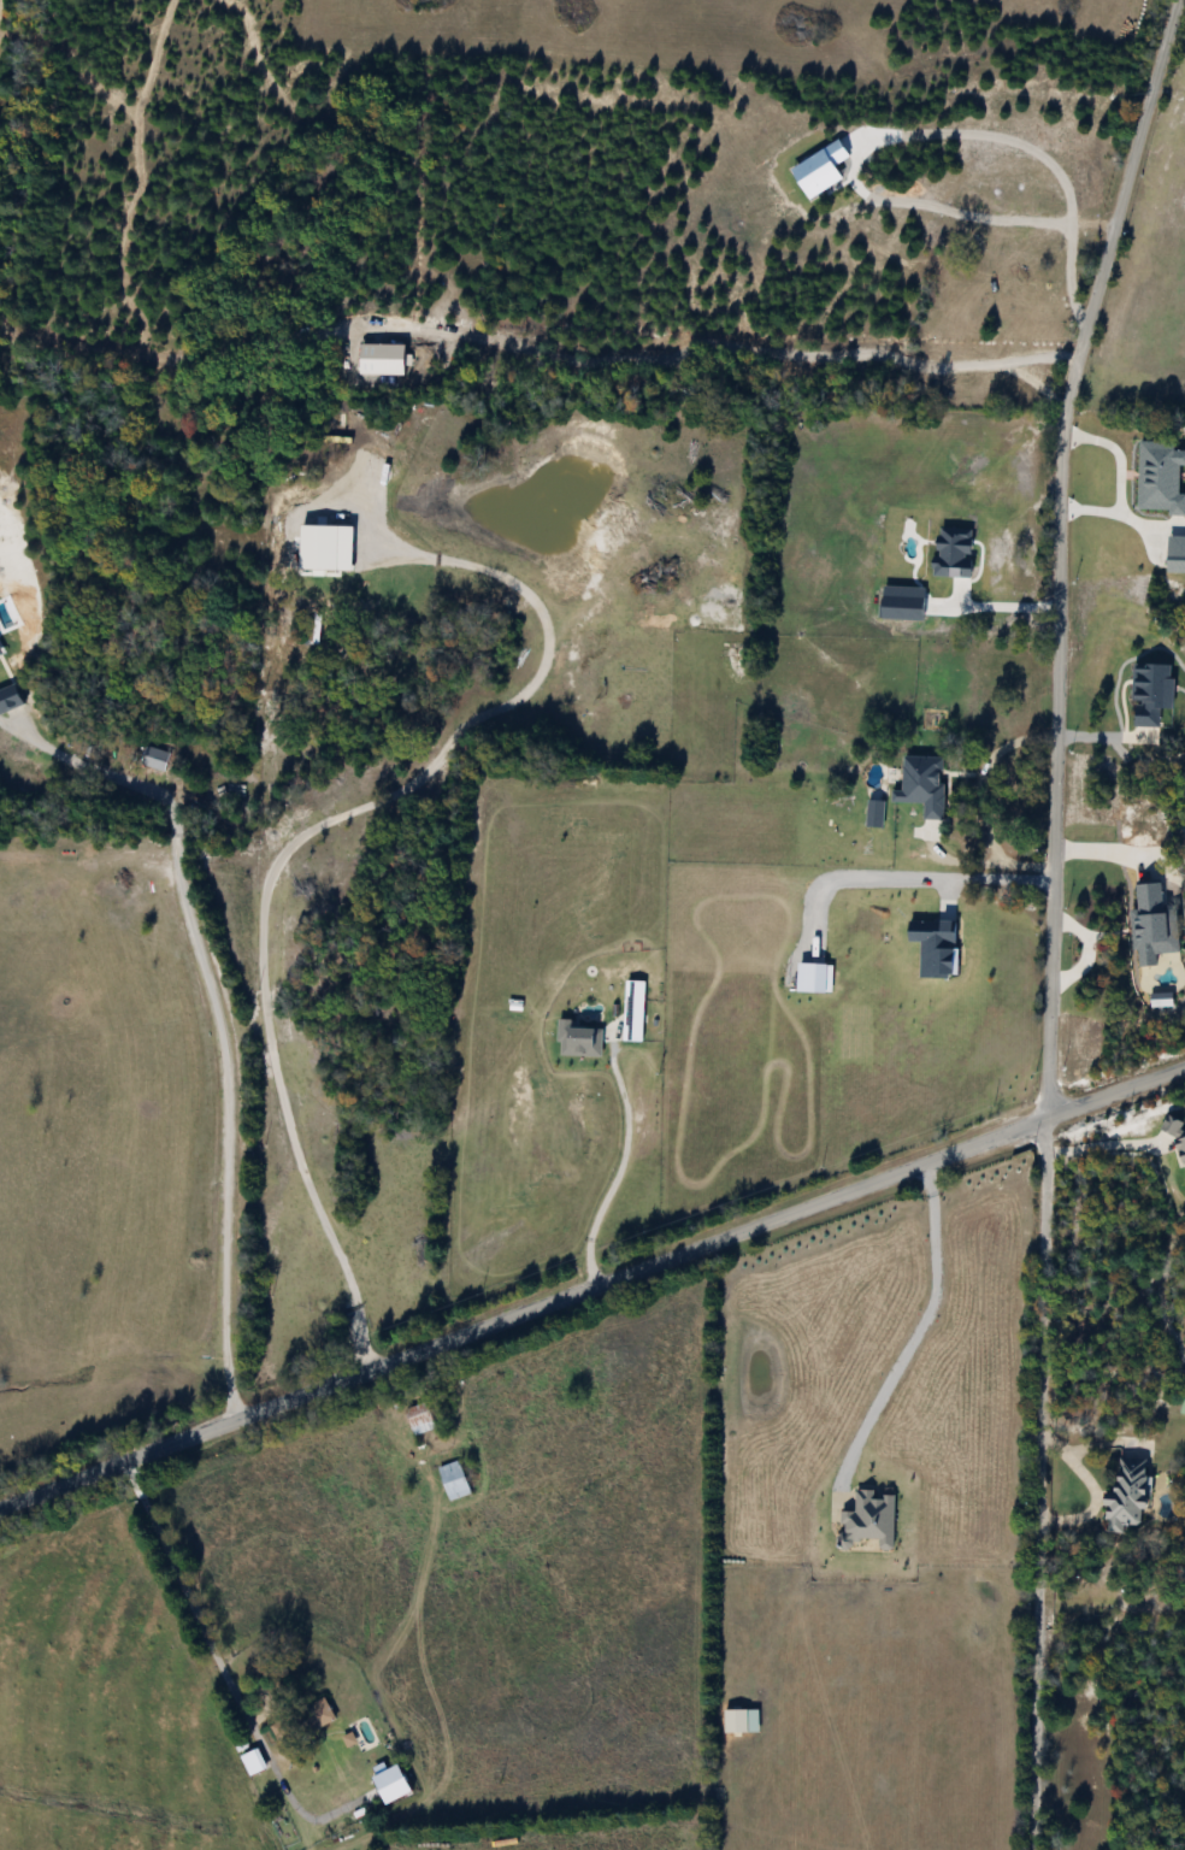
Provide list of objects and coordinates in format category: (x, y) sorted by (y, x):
road: (909, 132)
building: (1006, 230)
road: (750, 352)
road: (1032, 388)
road: (1119, 478)
road: (1056, 550)
road: (997, 606)
road: (984, 799)
road: (302, 836)
building: (1001, 866)
road: (992, 876)
road: (217, 1013)
road: (1099, 1143)
road: (606, 1186)
road: (591, 1283)
road: (903, 1326)
building: (1181, 1403)
building: (417, 1418)
building: (452, 1480)
road: (1038, 1483)
building: (1122, 1495)
road: (197, 1625)
building: (311, 1715)

